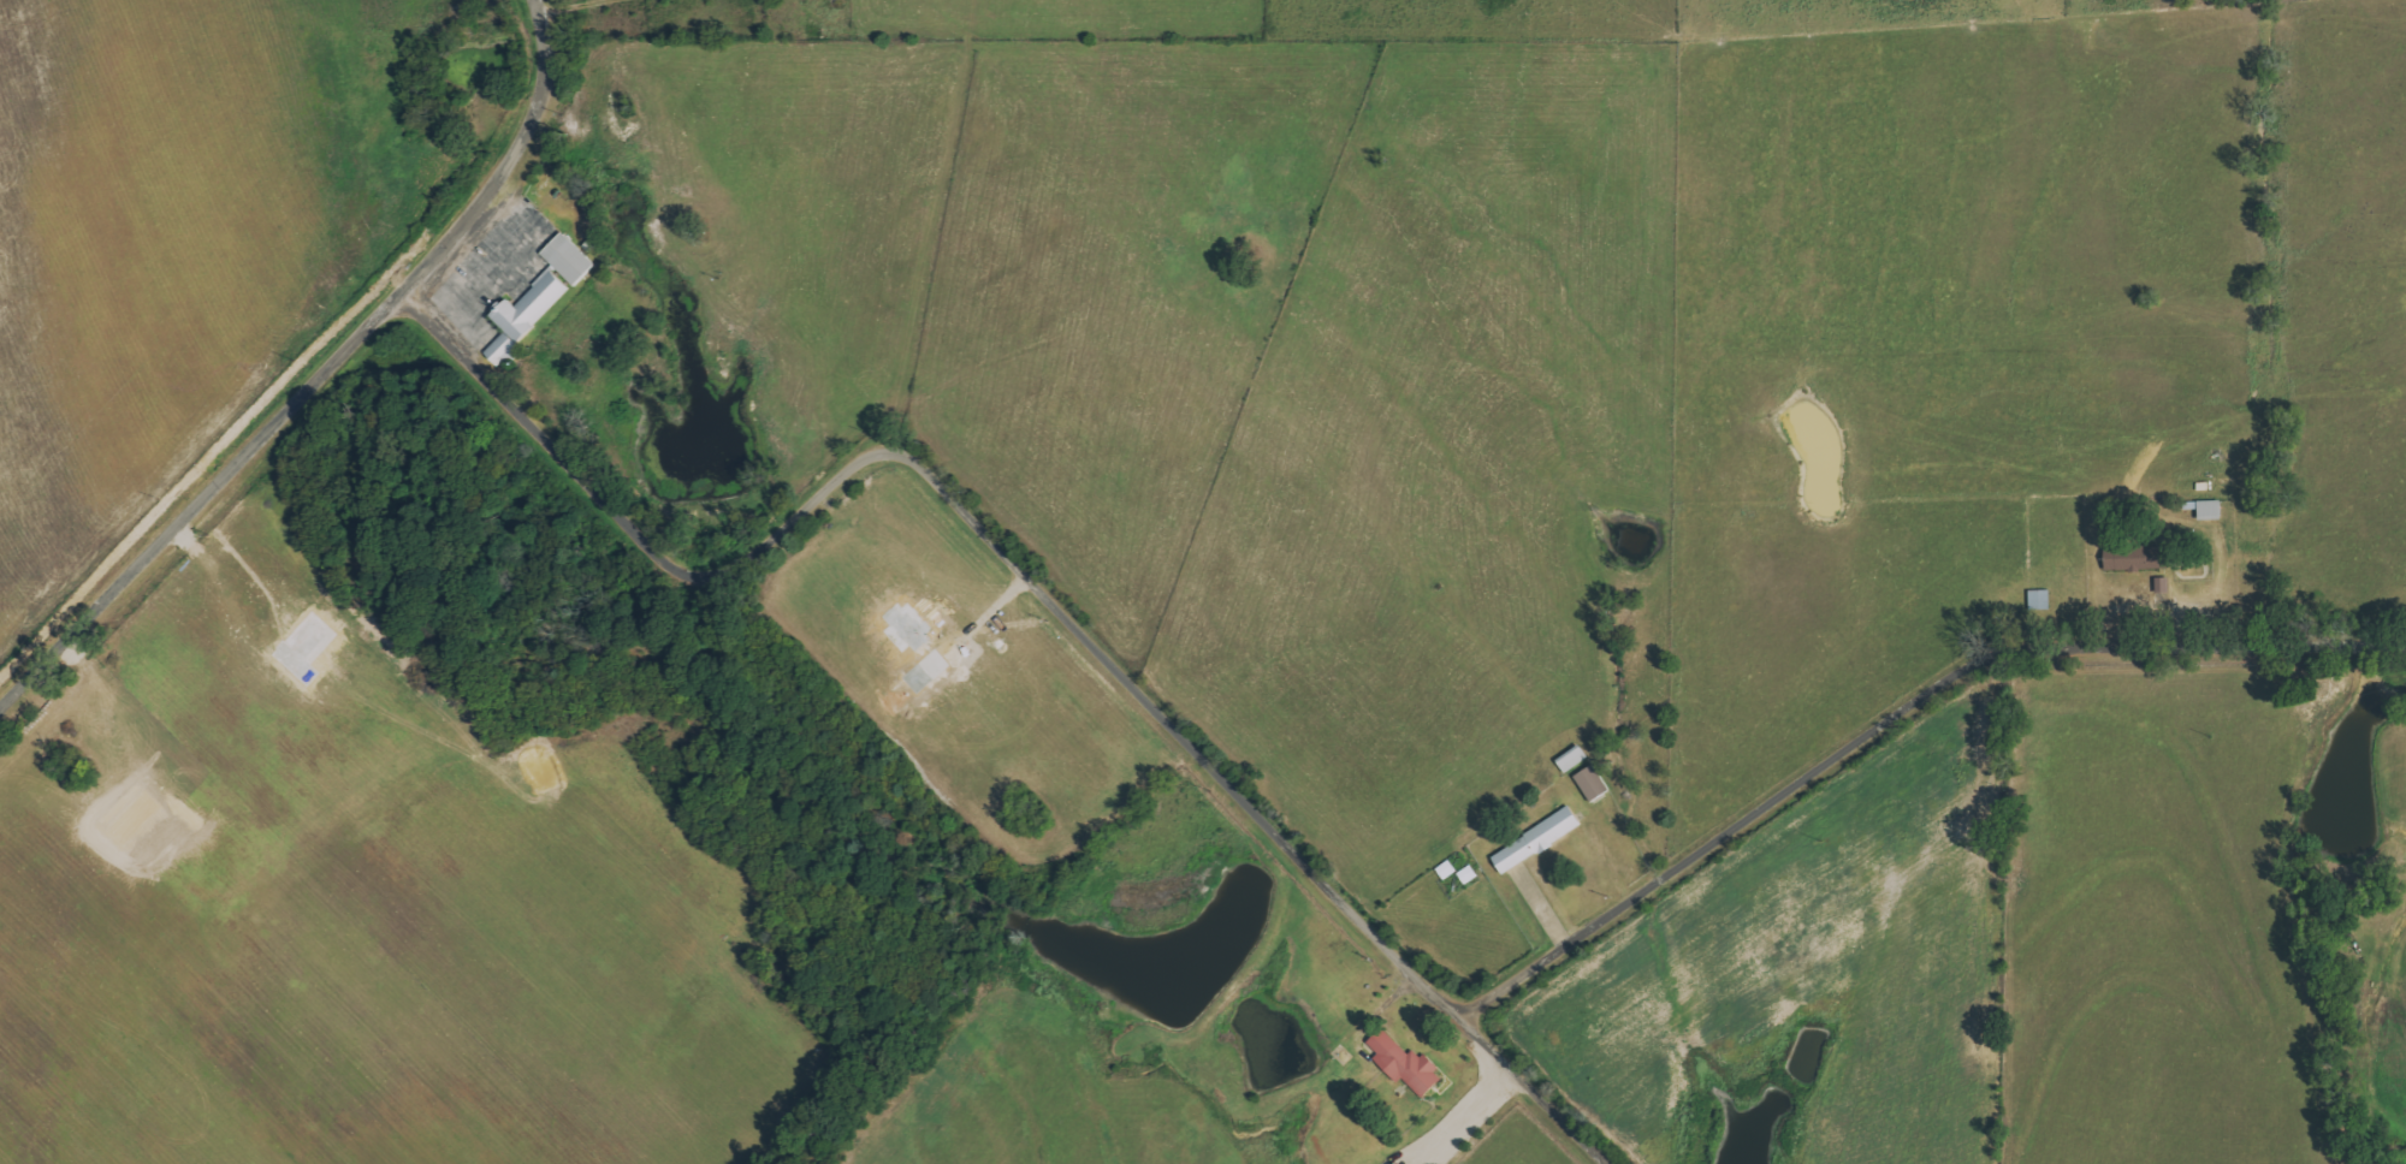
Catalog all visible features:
road: (569, 6)
building: (571, 259)
building: (527, 315)
road: (316, 375)
building: (2212, 507)
building: (2139, 557)
road: (1026, 568)
road: (1897, 725)
building: (1594, 783)
building: (1540, 841)
building: (1409, 1064)
building: (1403, 1163)

